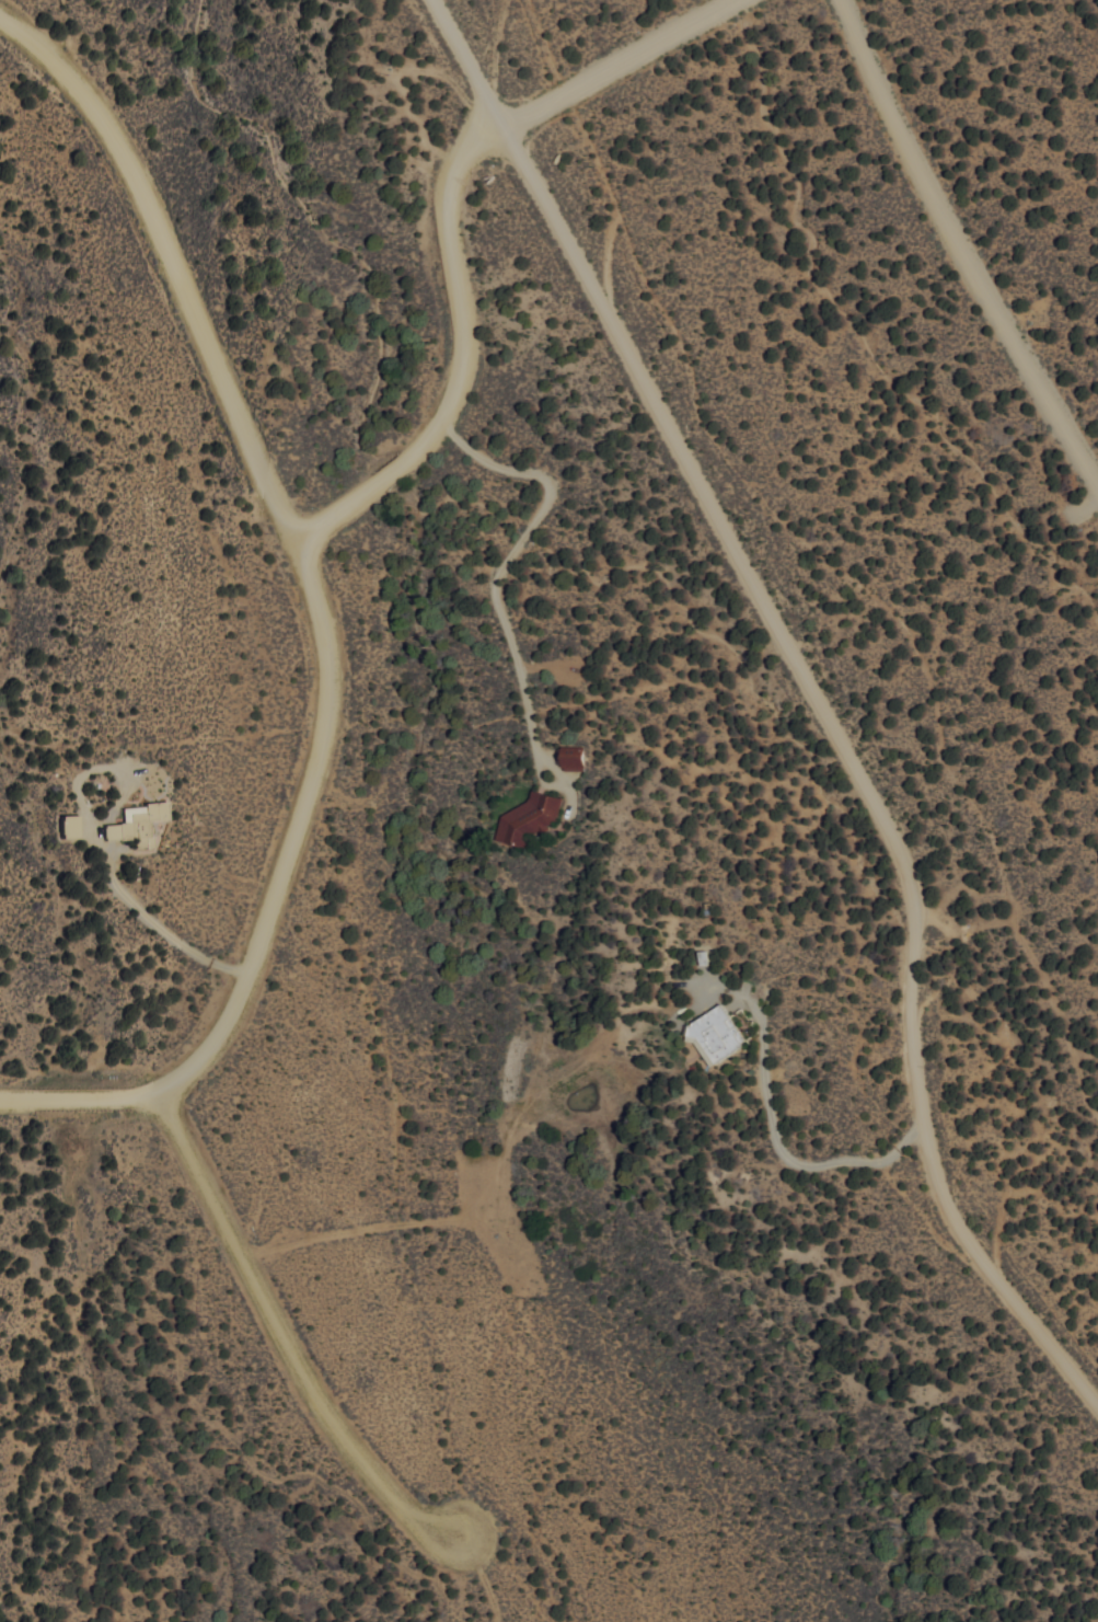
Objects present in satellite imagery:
road: (615, 61)
road: (961, 250)
road: (449, 352)
road: (310, 608)
road: (812, 697)
building: (574, 757)
building: (529, 818)
building: (137, 820)
building: (71, 826)
building: (147, 840)
building: (717, 1034)
road: (280, 1333)

